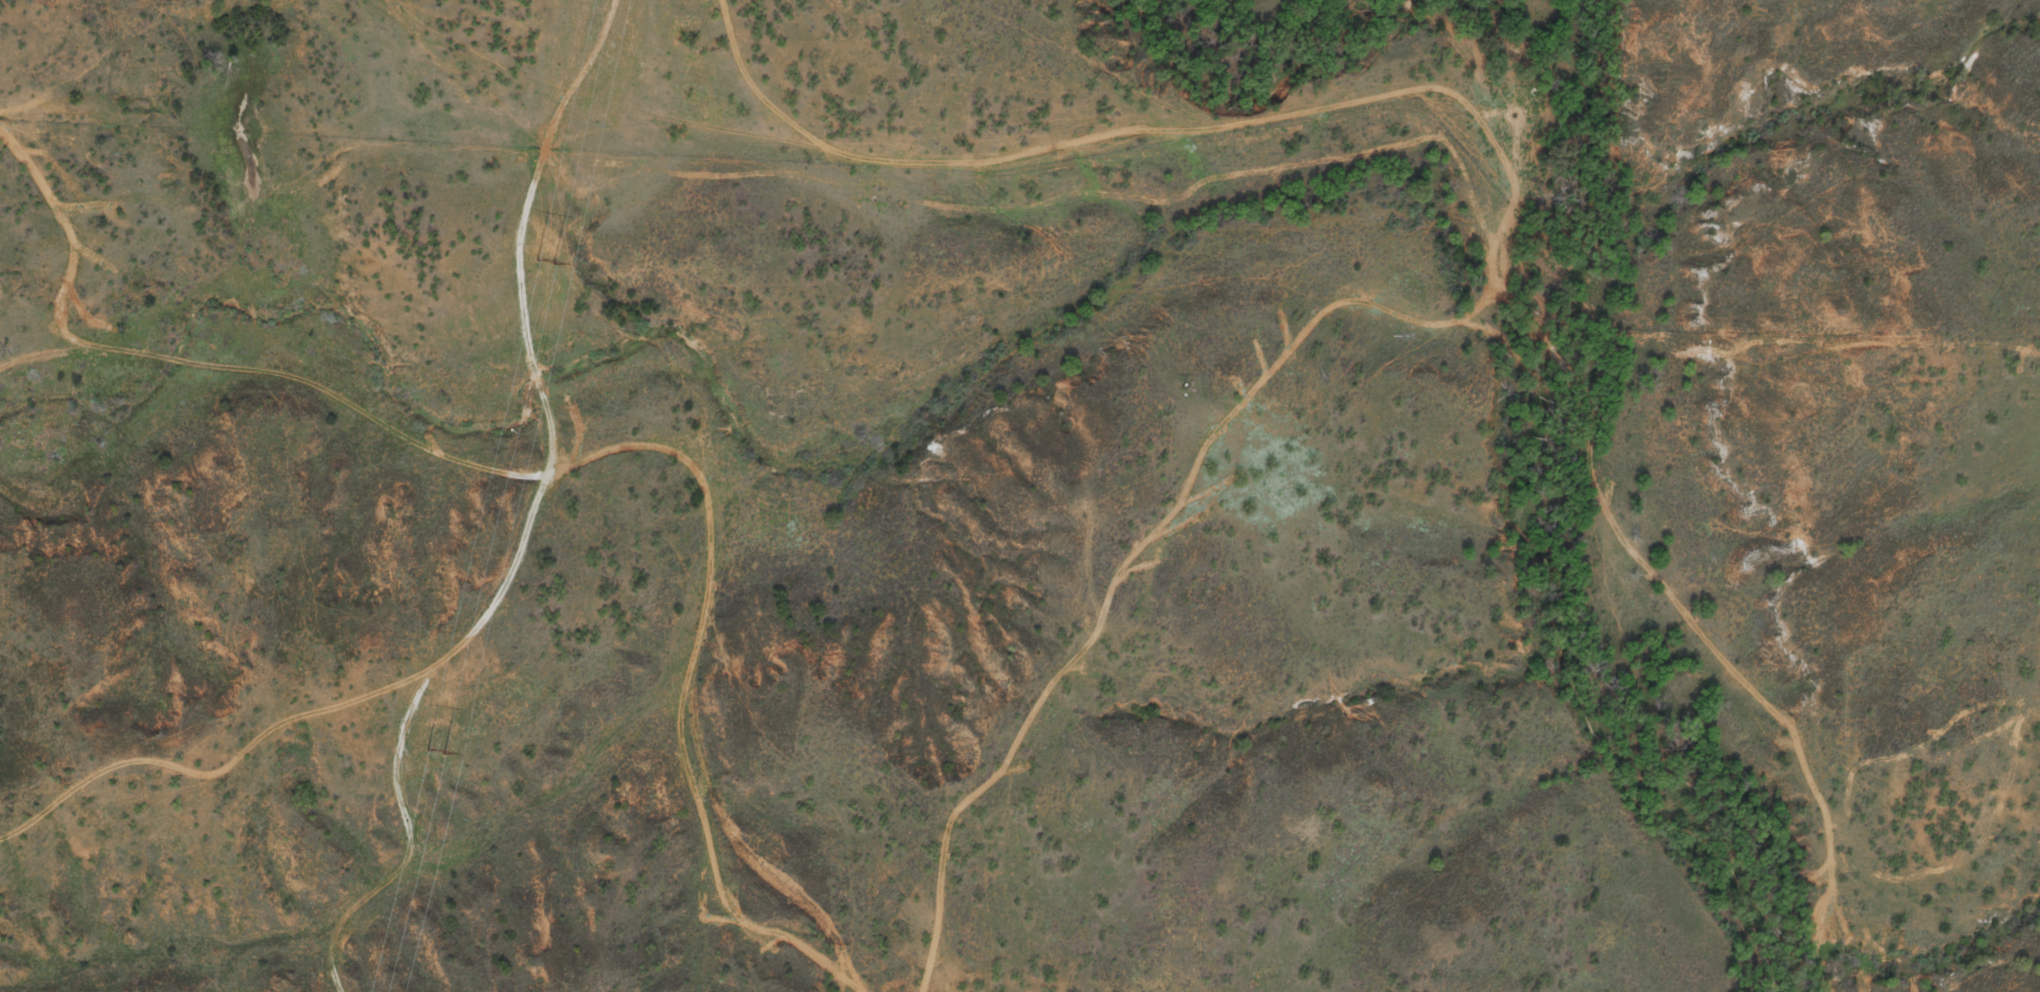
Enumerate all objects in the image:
power tower: (546, 260)
road: (556, 467)
power tower: (437, 754)

